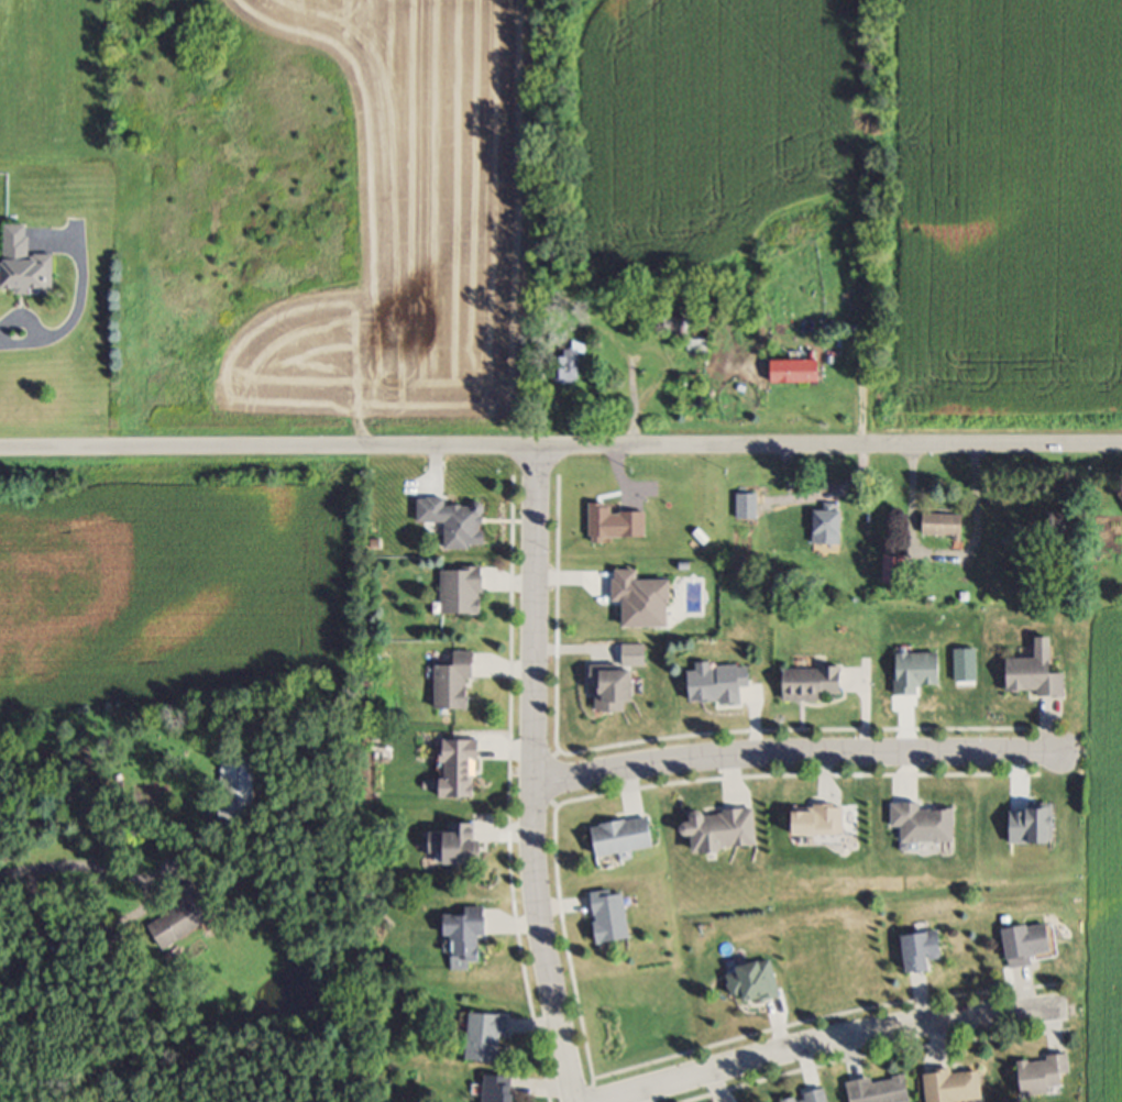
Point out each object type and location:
building: (30, 271)
road: (78, 305)
building: (692, 338)
building: (573, 372)
building: (799, 376)
road: (561, 445)
road: (821, 495)
building: (751, 510)
building: (462, 528)
building: (833, 530)
building: (948, 530)
road: (944, 559)
building: (469, 597)
building: (649, 605)
building: (922, 677)
building: (1041, 681)
building: (462, 688)
building: (725, 688)
building: (818, 690)
building: (620, 695)
road: (799, 758)
building: (243, 771)
building: (466, 773)
road: (537, 775)
building: (237, 816)
building: (826, 825)
building: (931, 827)
building: (728, 834)
building: (629, 840)
building: (464, 849)
road: (69, 863)
building: (616, 921)
building: (191, 926)
building: (473, 940)
building: (1033, 948)
building: (927, 956)
building: (760, 988)
road: (829, 1039)
building: (492, 1040)
building: (1048, 1080)
building: (960, 1089)
building: (505, 1091)
building: (886, 1093)
building: (822, 1099)

